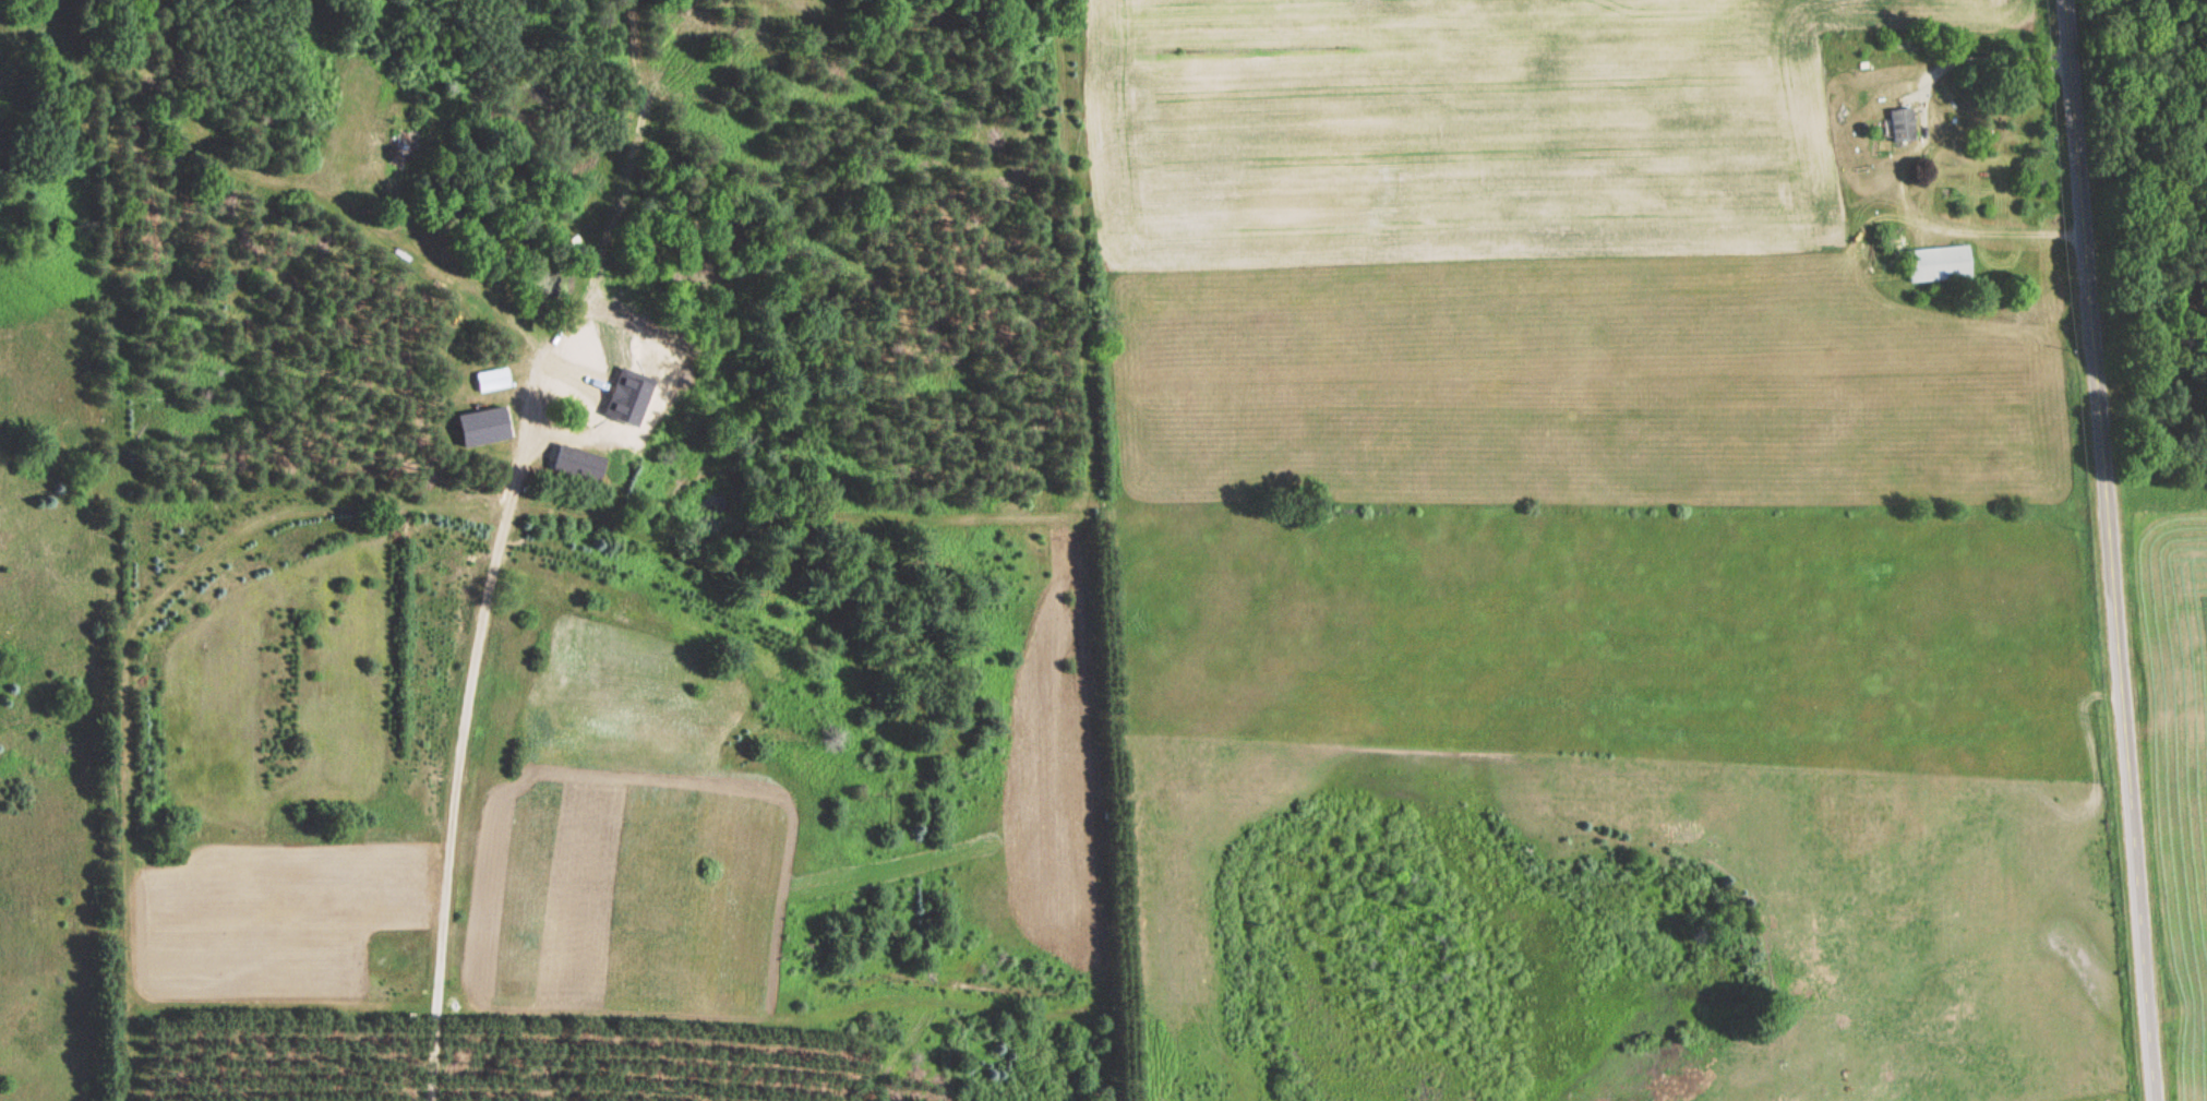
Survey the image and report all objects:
building: (1898, 127)
building: (1935, 263)
building: (492, 380)
building: (625, 391)
building: (573, 462)
road: (2111, 550)

